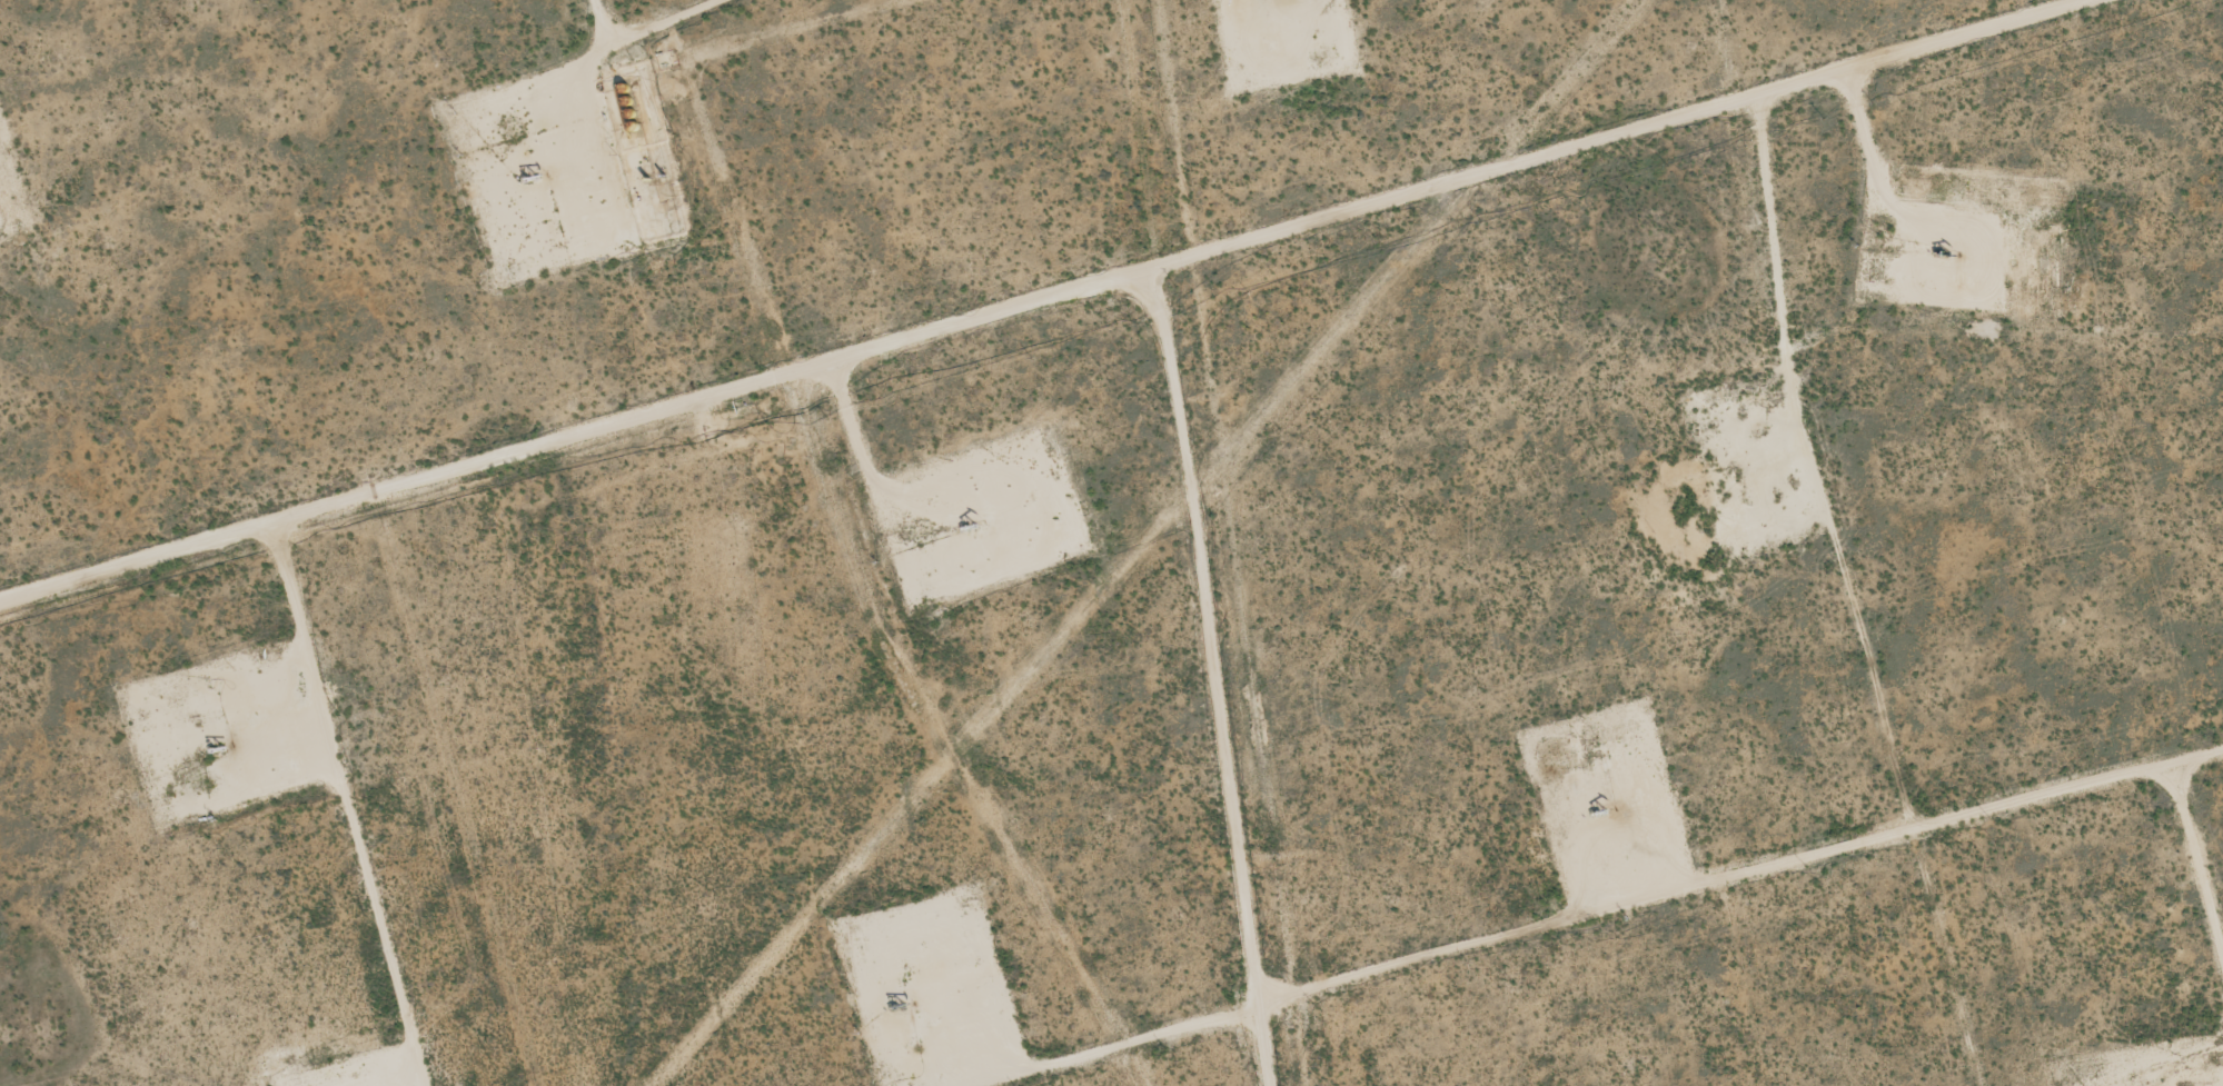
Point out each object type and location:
road: (612, 28)
road: (1212, 243)
road: (577, 427)
road: (345, 801)

